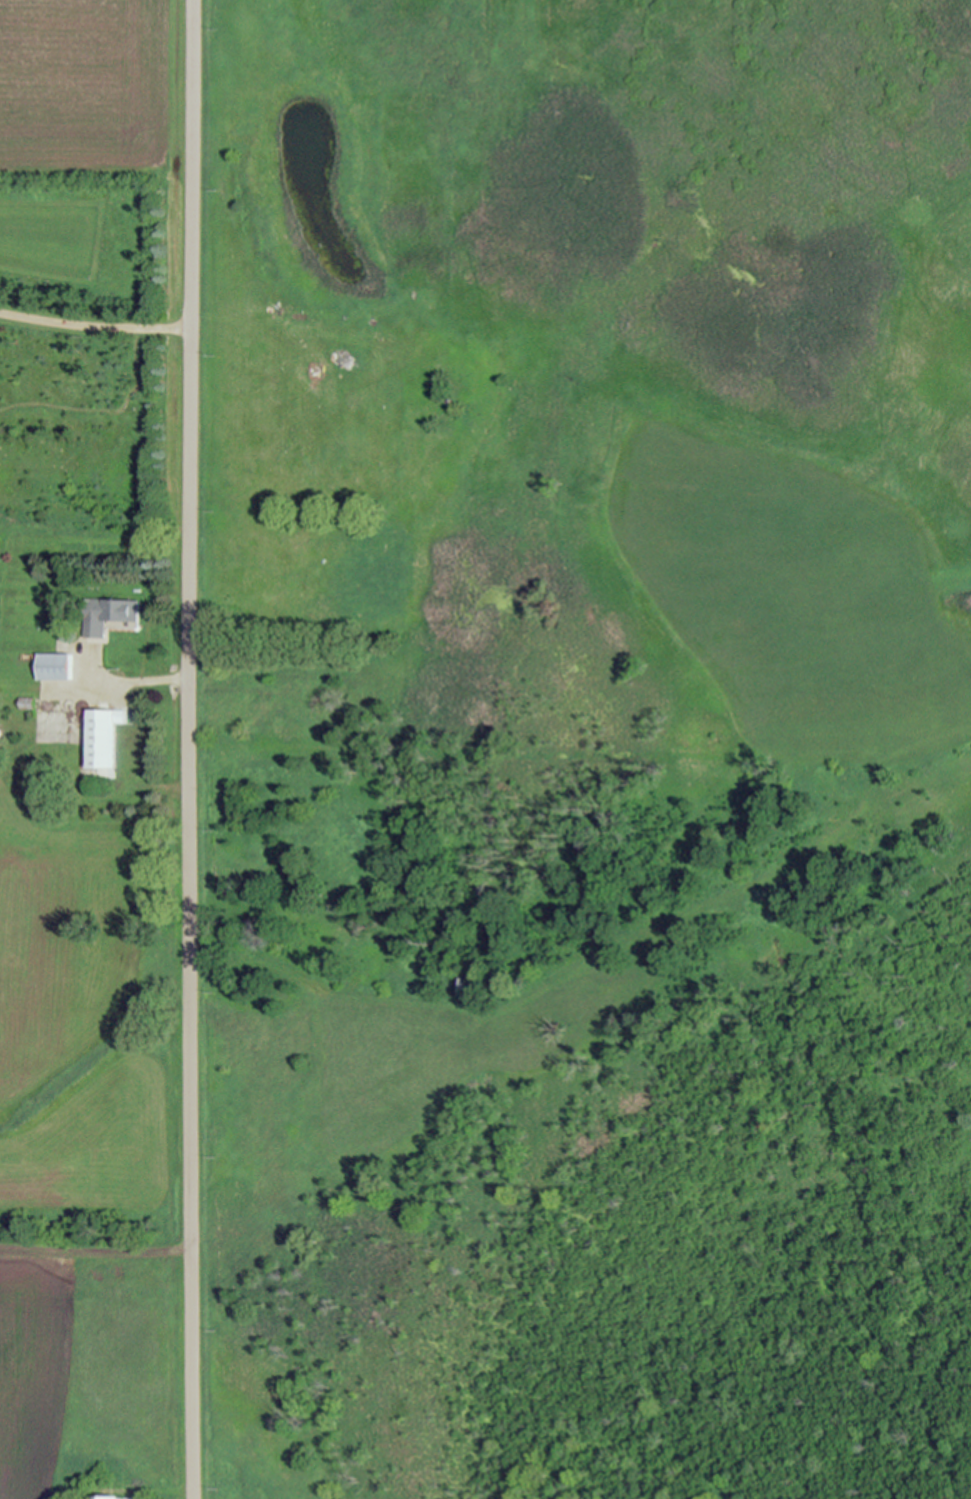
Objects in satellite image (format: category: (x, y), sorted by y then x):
road: (95, 317)
building: (297, 317)
building: (345, 364)
building: (109, 617)
building: (57, 669)
road: (134, 676)
building: (106, 740)
road: (189, 749)
building: (835, 863)
building: (464, 985)
building: (120, 1498)

